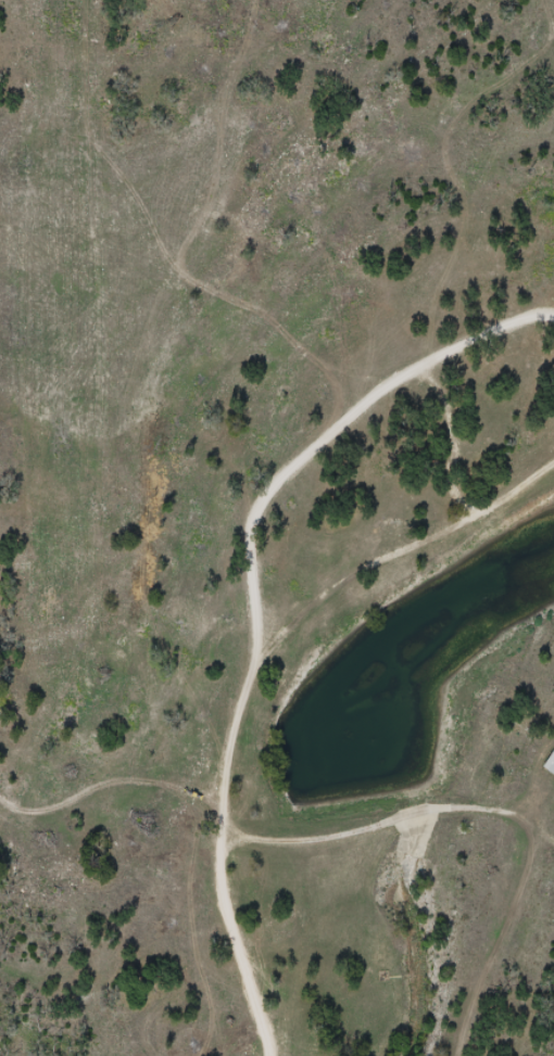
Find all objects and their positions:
building: (550, 765)

